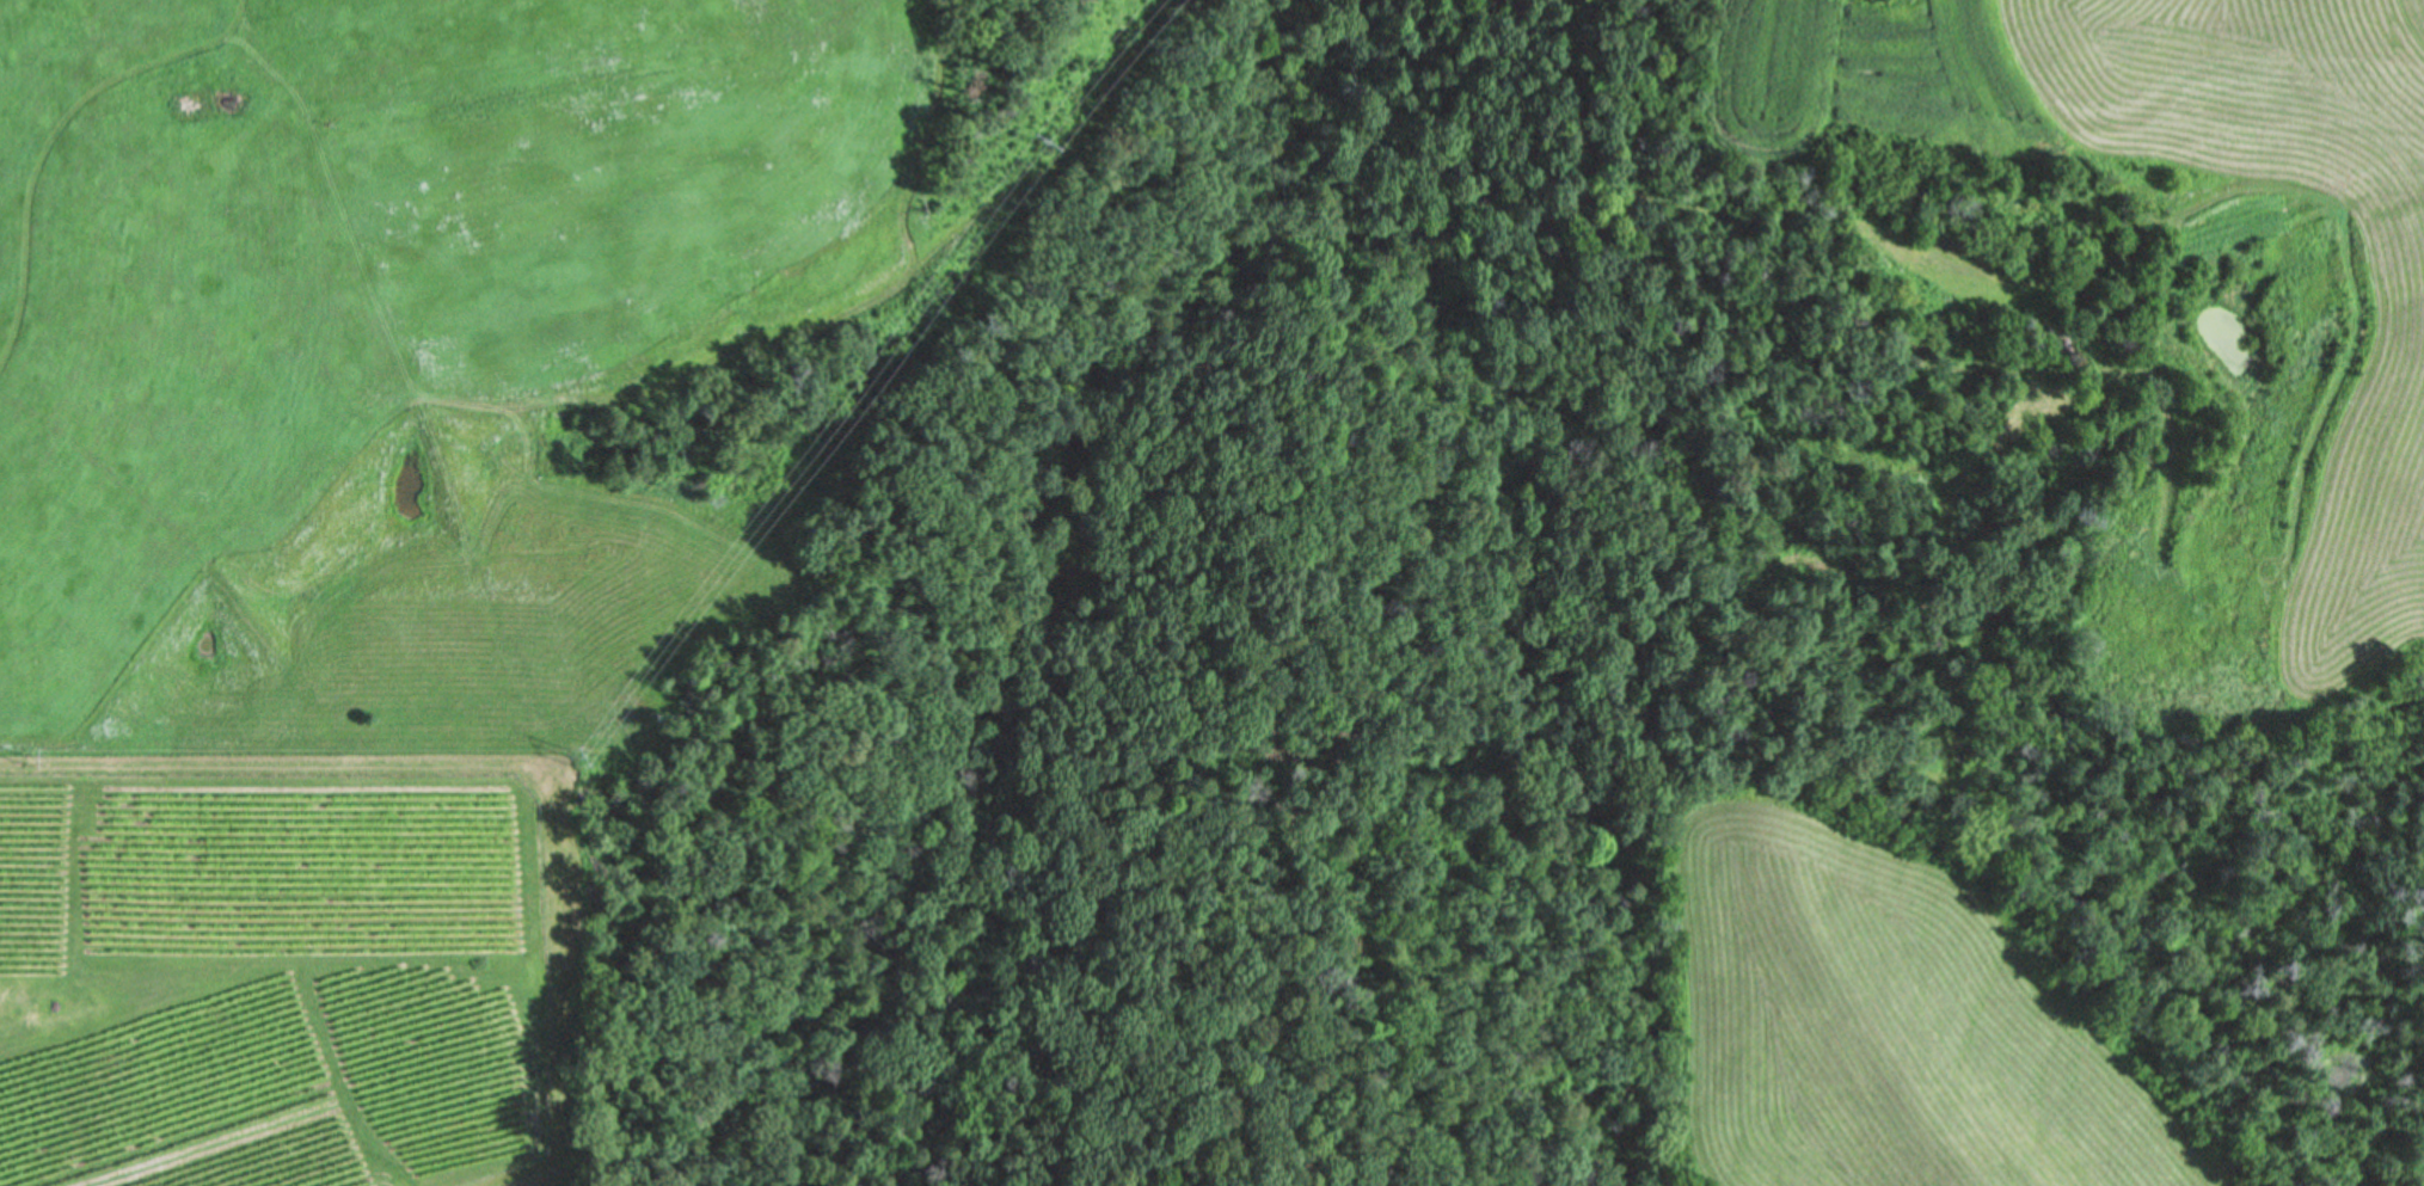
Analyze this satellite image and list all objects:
power tower: (44, 761)
road: (1189, 805)
building: (8, 979)

